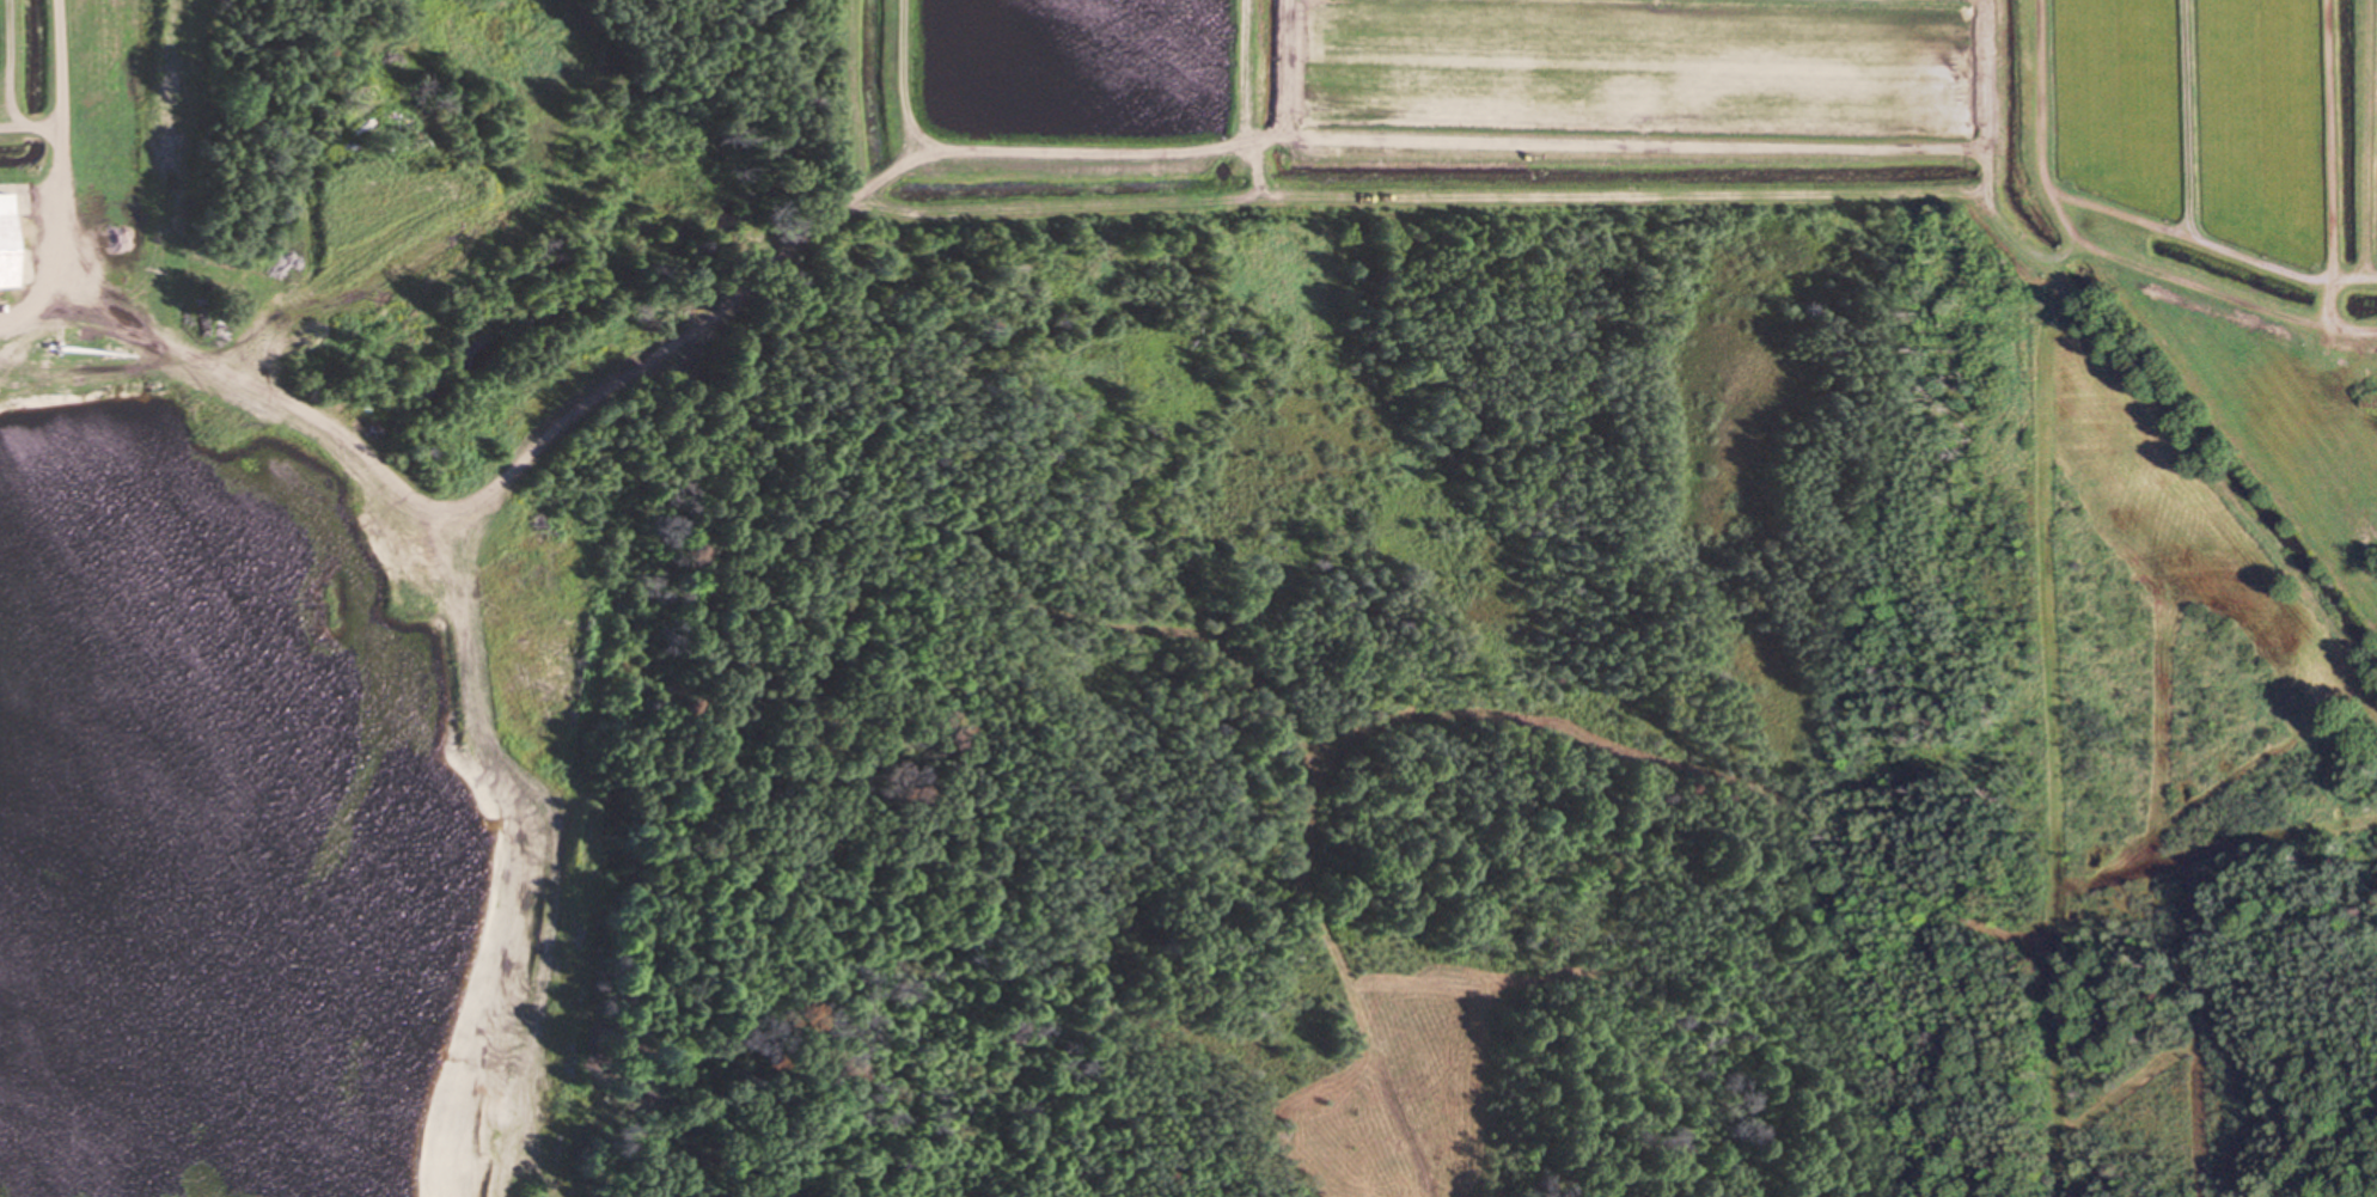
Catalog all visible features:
crop: (93, 81)
crop: (1859, 109)
building: (2, 243)
building: (2375, 387)

